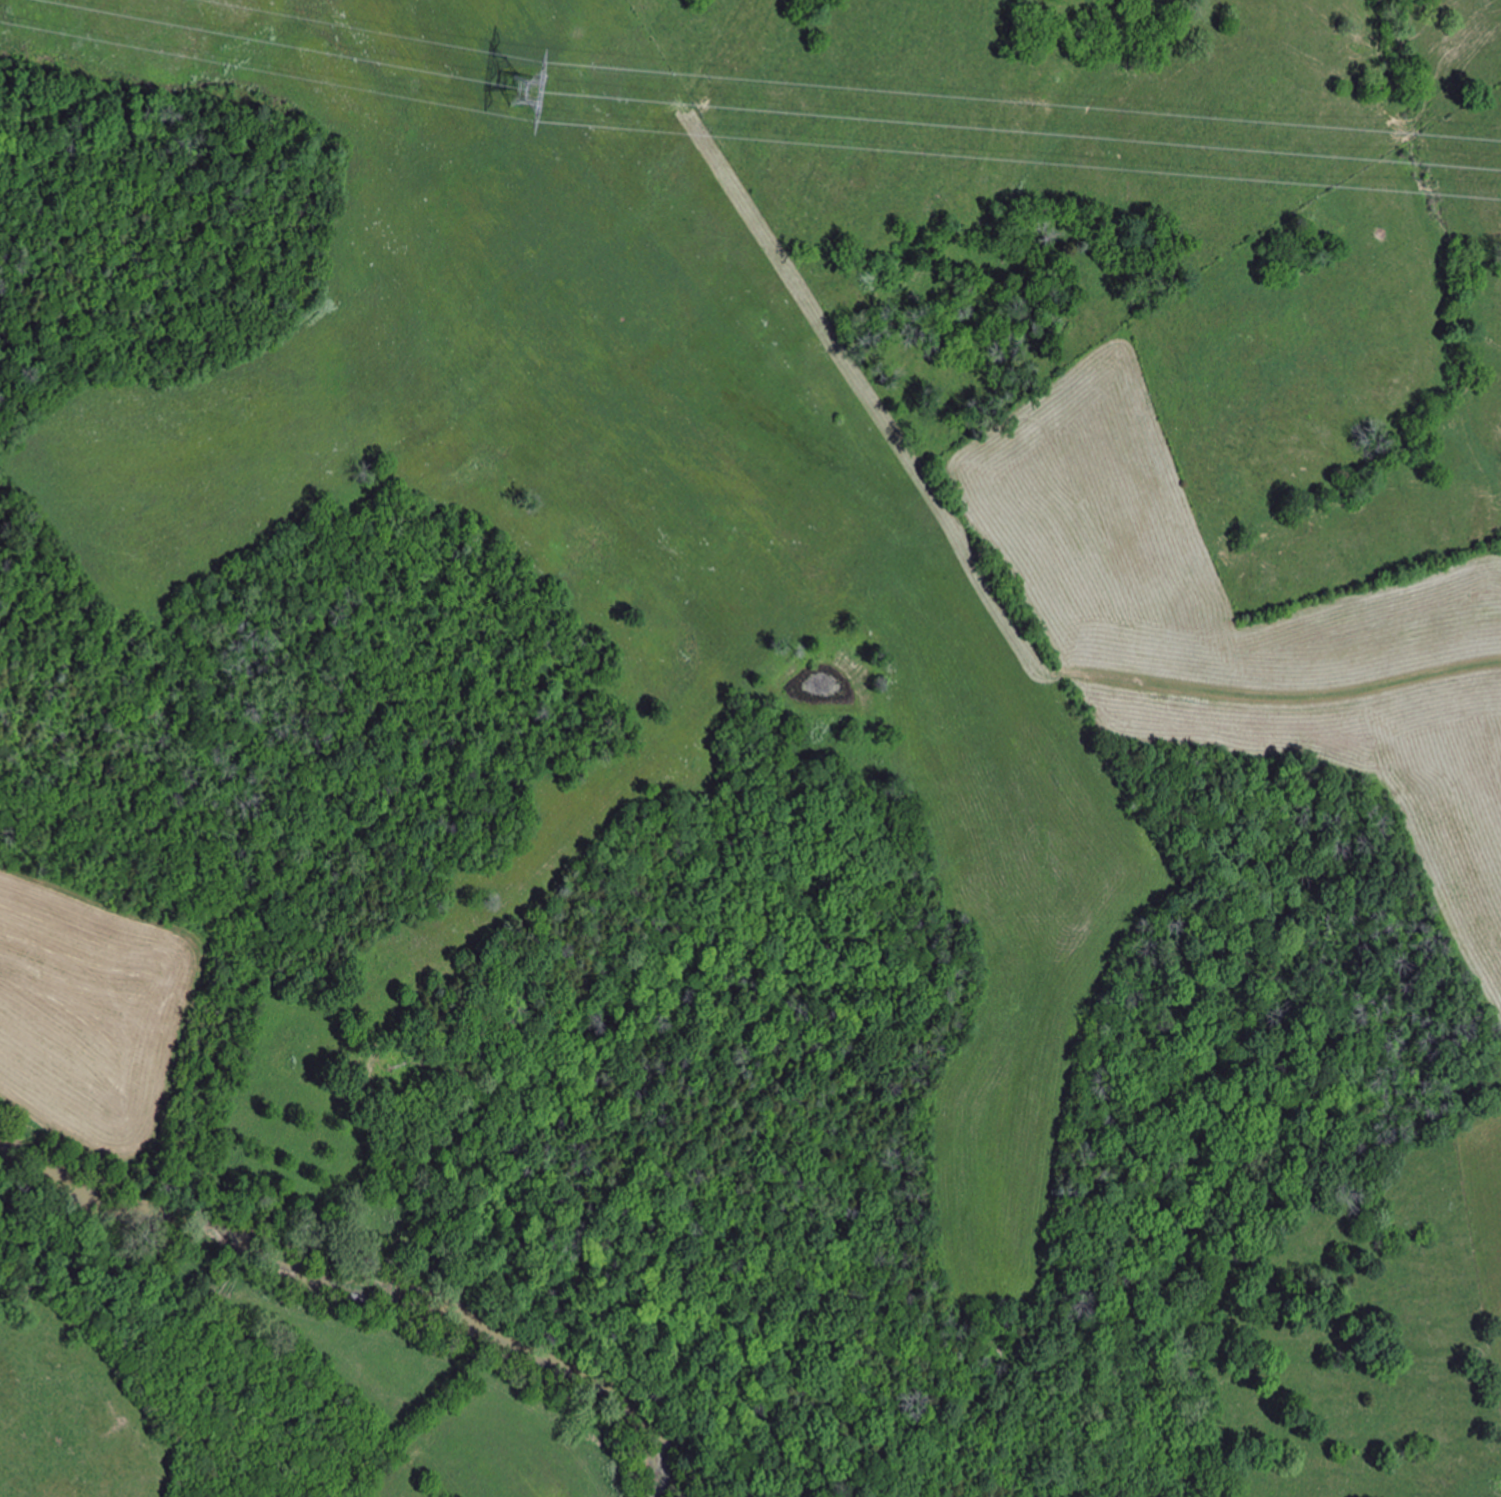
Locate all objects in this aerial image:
power tower: (511, 92)
road: (1476, 688)
river: (364, 1288)

